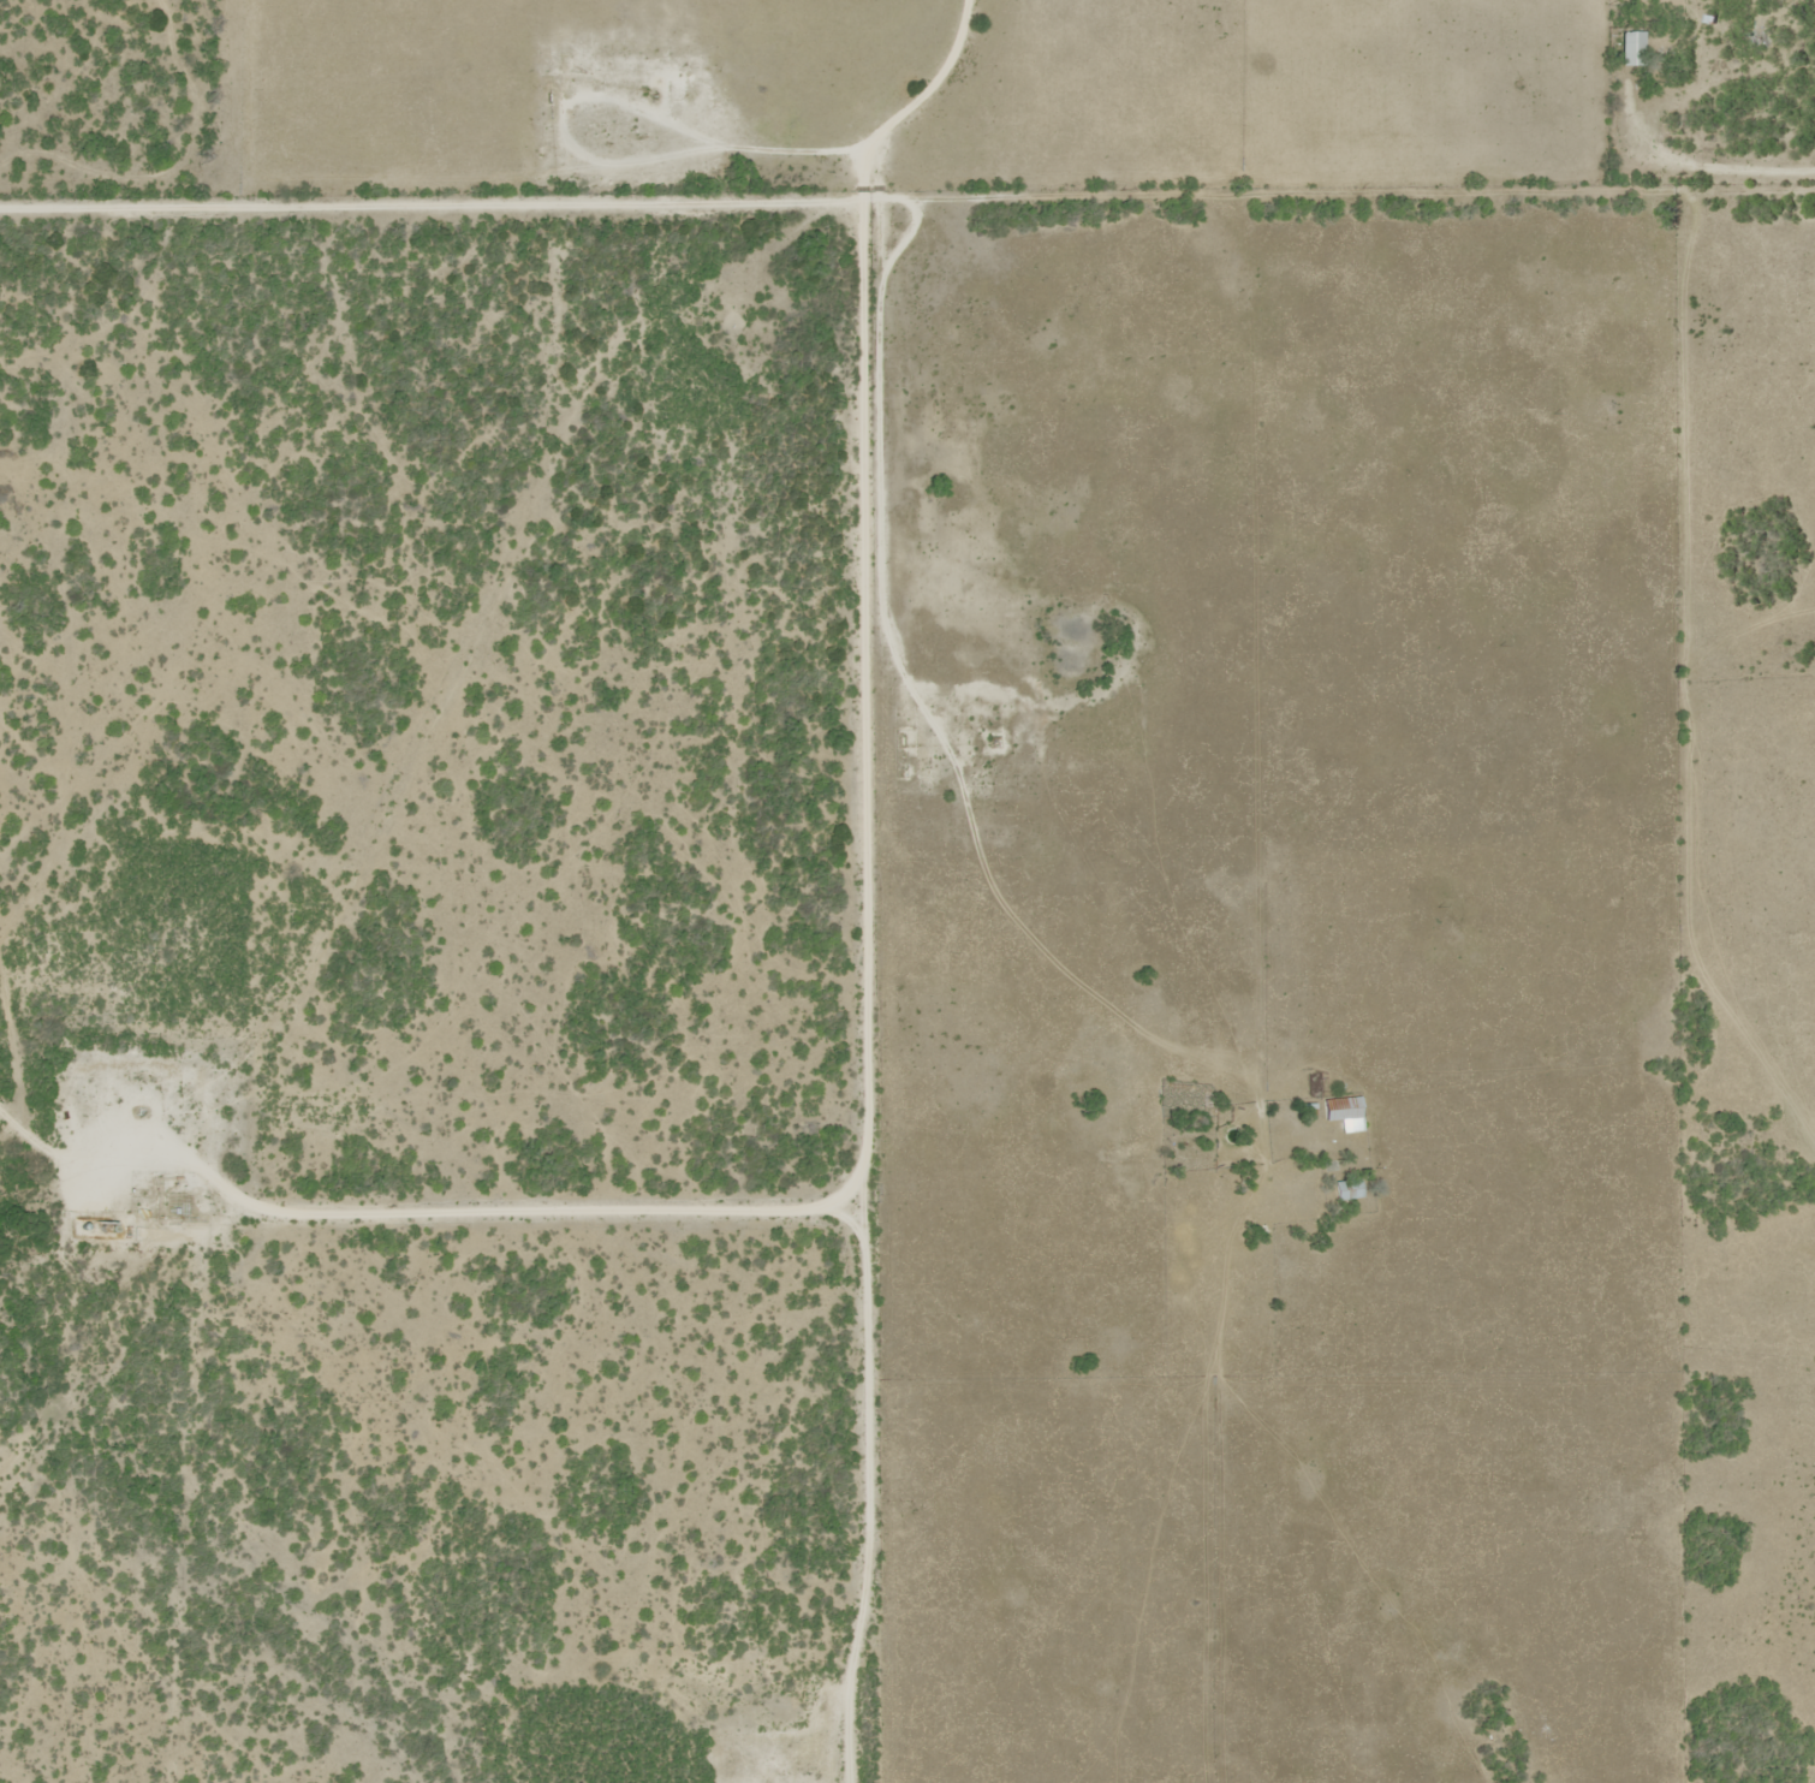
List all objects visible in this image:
building: (1630, 47)
road: (519, 171)
road: (834, 976)
building: (1341, 1107)
building: (1347, 1188)

